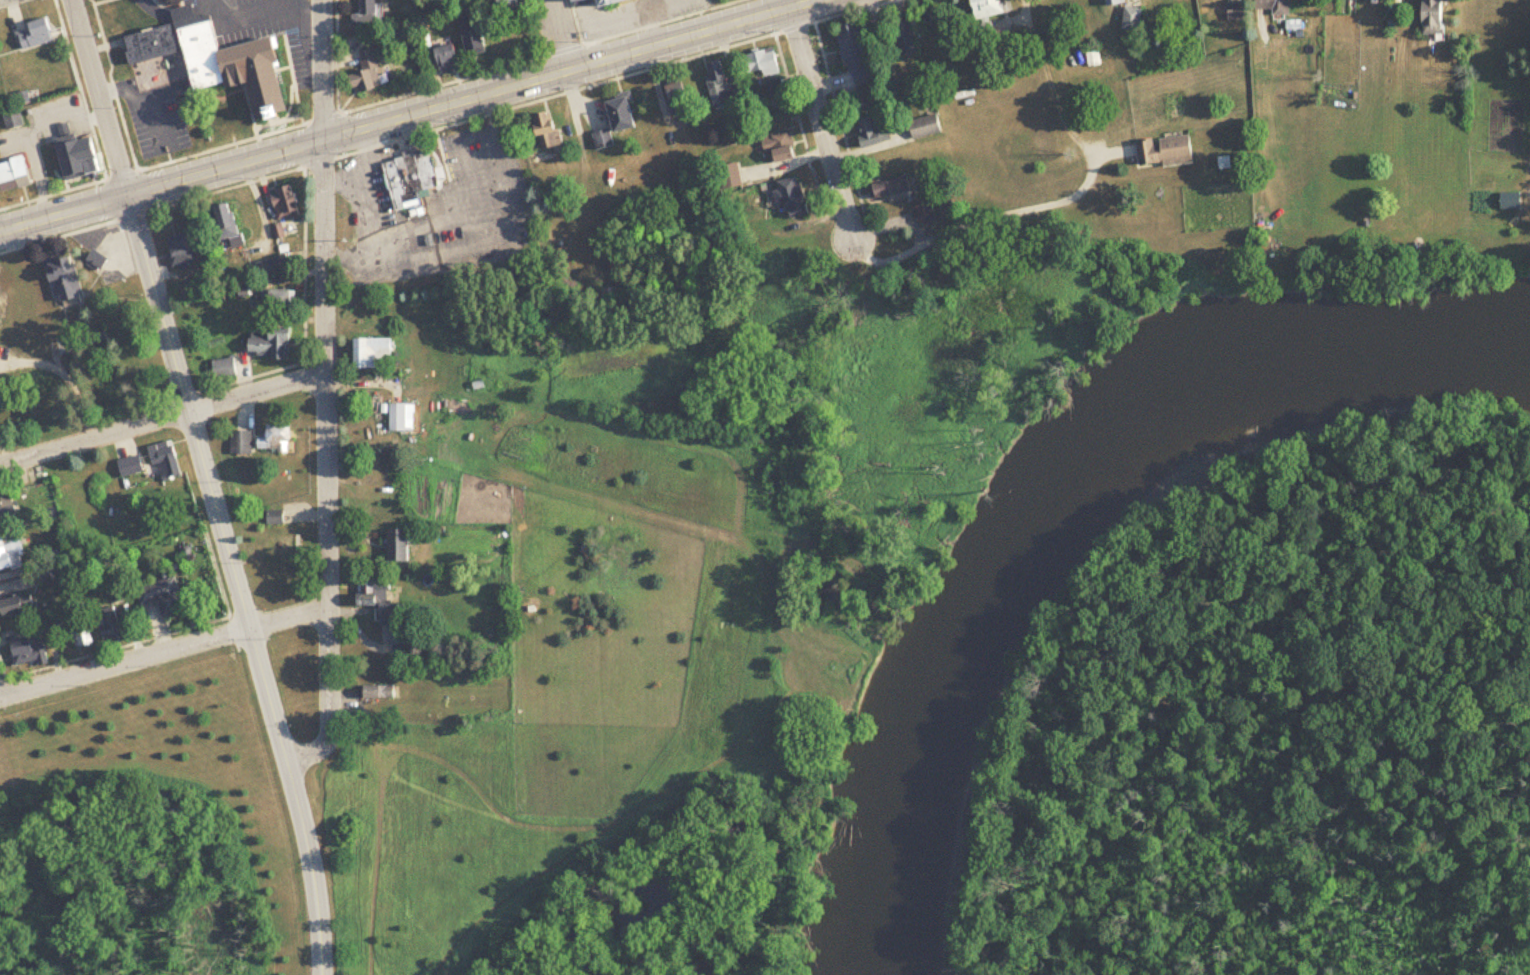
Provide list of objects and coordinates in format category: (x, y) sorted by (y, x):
building: (566, 0)
building: (601, 2)
building: (1111, 2)
building: (498, 3)
road: (797, 3)
building: (1269, 6)
building: (984, 8)
building: (1230, 11)
road: (260, 12)
building: (362, 12)
building: (1427, 17)
building: (1128, 18)
building: (35, 34)
road: (559, 35)
building: (900, 37)
building: (468, 39)
building: (849, 45)
building: (1090, 57)
building: (441, 58)
building: (219, 59)
building: (757, 63)
road: (321, 70)
building: (362, 72)
building: (714, 83)
building: (863, 92)
road: (99, 98)
building: (675, 99)
road: (409, 115)
building: (14, 119)
building: (611, 121)
building: (920, 127)
building: (541, 129)
road: (821, 129)
building: (867, 129)
building: (775, 147)
building: (1160, 148)
building: (79, 154)
road: (464, 155)
road: (342, 172)
building: (15, 174)
building: (726, 177)
building: (405, 178)
building: (886, 187)
building: (788, 199)
building: (1505, 202)
building: (289, 204)
building: (920, 210)
road: (989, 217)
road: (446, 219)
road: (373, 221)
building: (226, 225)
road: (513, 227)
building: (186, 248)
building: (98, 261)
building: (270, 268)
building: (67, 281)
building: (193, 293)
building: (1, 299)
building: (282, 300)
road: (999, 303)
building: (273, 344)
building: (374, 352)
building: (400, 417)
road: (163, 419)
building: (279, 439)
building: (242, 443)
building: (167, 460)
road: (326, 464)
building: (132, 467)
road: (208, 480)
building: (8, 506)
river: (1081, 516)
building: (276, 518)
building: (402, 546)
building: (284, 547)
building: (12, 555)
building: (163, 597)
building: (382, 602)
building: (20, 606)
building: (114, 625)
building: (83, 634)
road: (163, 651)
building: (31, 653)
building: (382, 692)
road: (310, 868)

